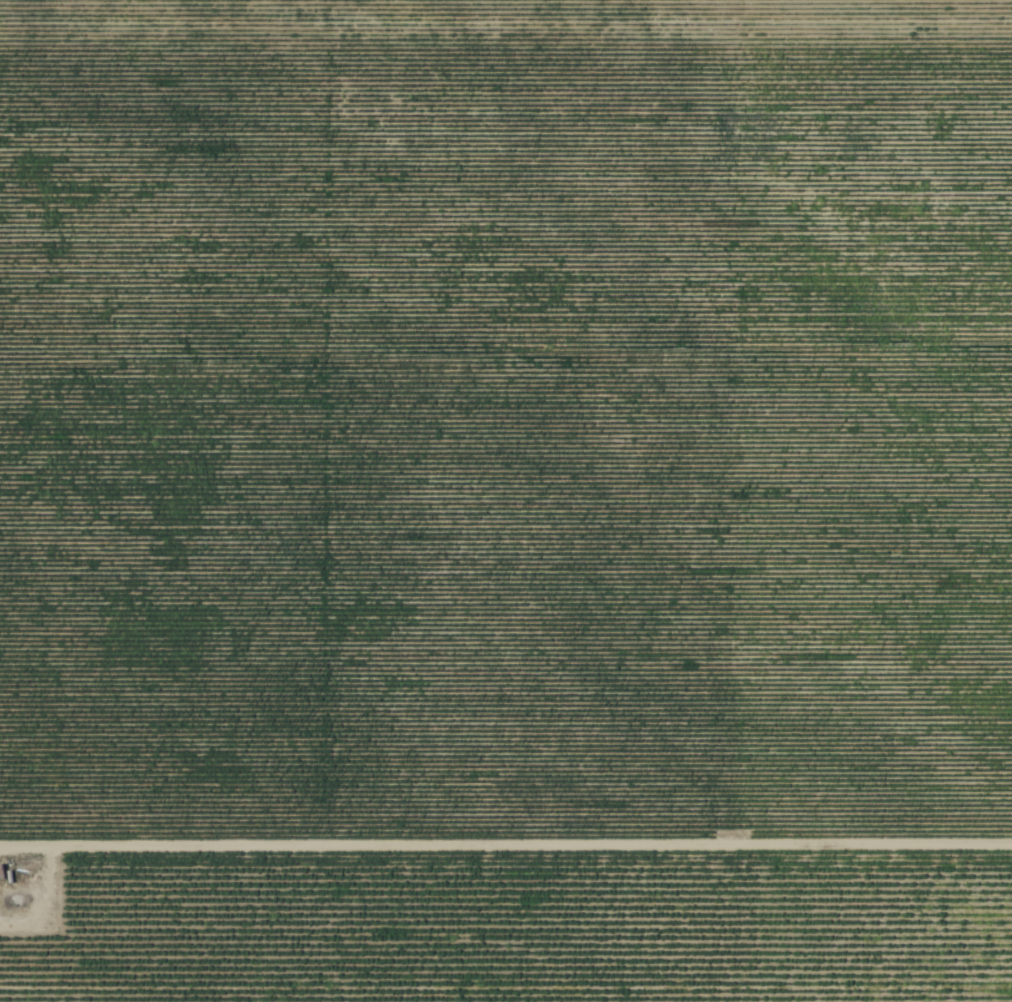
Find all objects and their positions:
road: (506, 849)
crop: (523, 929)

